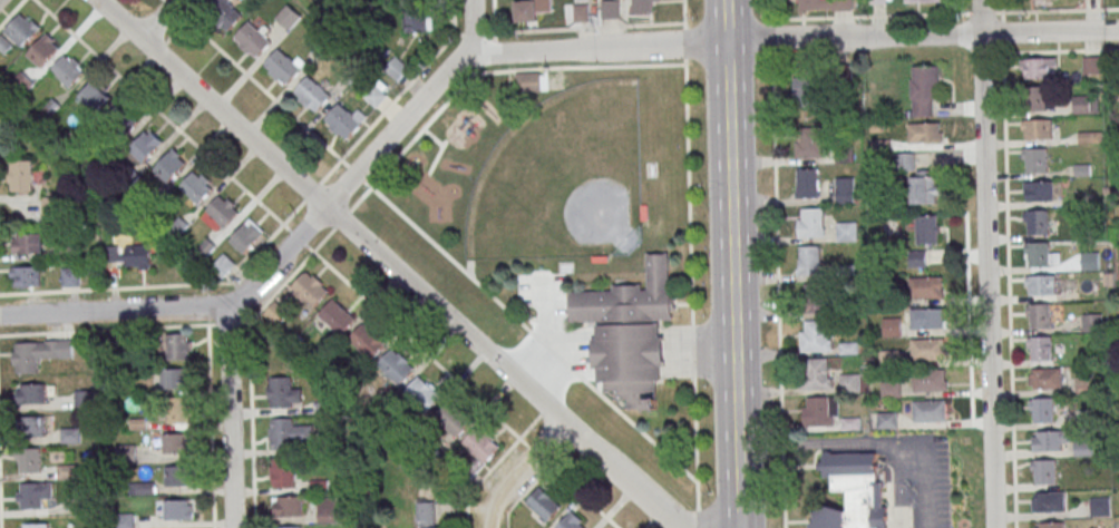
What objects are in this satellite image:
building: (879, 0)
building: (921, 0)
building: (824, 4)
building: (641, 6)
building: (609, 8)
building: (529, 9)
road: (769, 12)
building: (223, 13)
road: (682, 13)
road: (944, 13)
building: (288, 17)
road: (157, 19)
building: (418, 19)
road: (471, 28)
building: (21, 29)
road: (551, 30)
building: (251, 40)
road: (770, 40)
road: (684, 43)
building: (43, 50)
road: (505, 53)
building: (283, 65)
building: (1090, 65)
building: (397, 68)
building: (1037, 68)
building: (67, 69)
road: (536, 69)
road: (252, 80)
building: (528, 86)
building: (923, 90)
building: (806, 91)
building: (311, 94)
building: (376, 96)
building: (95, 97)
building: (1038, 98)
building: (1084, 105)
building: (123, 120)
building: (344, 121)
building: (1035, 129)
building: (924, 133)
building: (809, 143)
building: (145, 145)
building: (1035, 160)
building: (905, 162)
building: (169, 165)
building: (20, 176)
park: (563, 182)
building: (807, 183)
building: (196, 186)
road: (370, 187)
building: (845, 190)
building: (923, 190)
building: (1041, 192)
building: (53, 207)
building: (220, 212)
building: (1037, 222)
building: (810, 223)
park: (573, 226)
building: (927, 228)
building: (846, 231)
building: (246, 236)
building: (27, 243)
building: (115, 252)
building: (1040, 255)
building: (137, 256)
building: (916, 258)
building: (809, 261)
building: (1090, 261)
road: (732, 264)
road: (985, 264)
building: (223, 265)
road: (1008, 270)
building: (25, 276)
building: (70, 276)
road: (409, 283)
building: (1041, 285)
road: (154, 287)
building: (925, 287)
building: (309, 290)
road: (777, 292)
road: (691, 293)
parking lot: (544, 295)
building: (815, 297)
building: (275, 314)
building: (337, 316)
building: (1040, 316)
building: (926, 319)
building: (1092, 322)
building: (630, 335)
building: (815, 335)
building: (368, 340)
building: (178, 346)
building: (1040, 349)
building: (928, 350)
building: (38, 353)
building: (396, 366)
building: (819, 373)
building: (175, 379)
building: (1045, 379)
building: (930, 380)
building: (891, 389)
building: (30, 393)
building: (282, 393)
building: (424, 393)
building: (178, 410)
building: (1042, 410)
building: (820, 411)
building: (930, 411)
road: (228, 415)
building: (451, 419)
building: (887, 420)
building: (32, 426)
building: (289, 433)
building: (1051, 440)
building: (176, 442)
road: (827, 443)
building: (480, 444)
building: (1083, 449)
building: (28, 460)
road: (518, 471)
building: (282, 472)
building: (1043, 472)
building: (177, 476)
road: (926, 481)
building: (854, 492)
building: (32, 495)
building: (1049, 501)
building: (543, 503)
building: (286, 506)
building: (1100, 506)
building: (177, 509)
building: (325, 509)
building: (424, 511)
building: (573, 521)
building: (1050, 525)
building: (33, 526)
building: (288, 527)
building: (432, 527)

